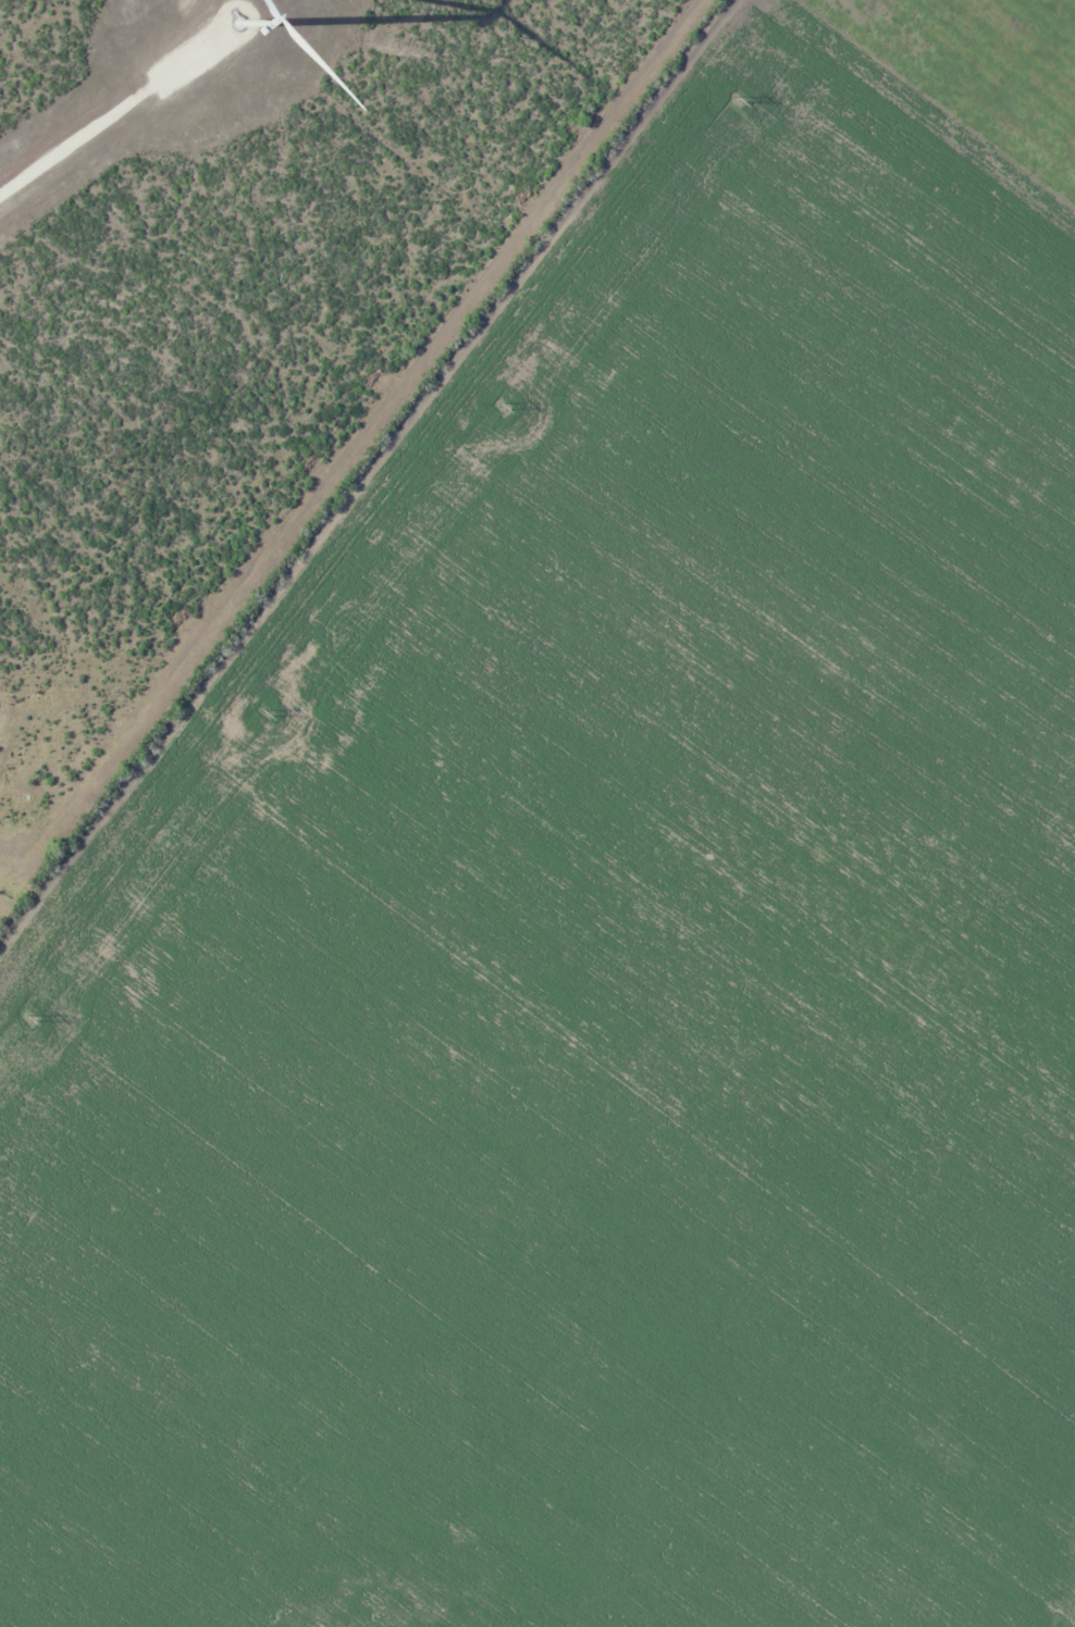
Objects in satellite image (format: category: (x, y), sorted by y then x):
wind turbine: (231, 17)
power tower: (738, 98)
power tower: (503, 405)
power tower: (267, 712)
power tower: (30, 1017)

